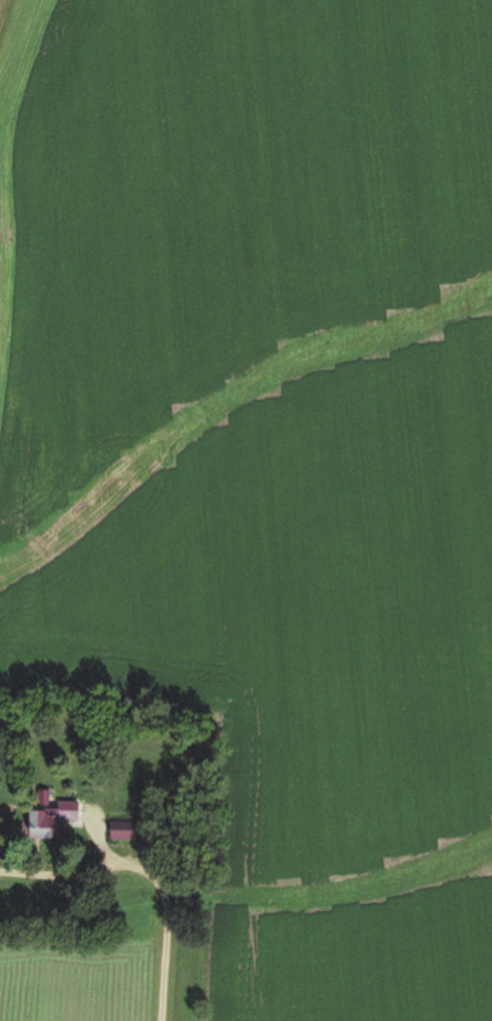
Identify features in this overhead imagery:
building: (49, 820)
building: (121, 832)
road: (165, 935)

